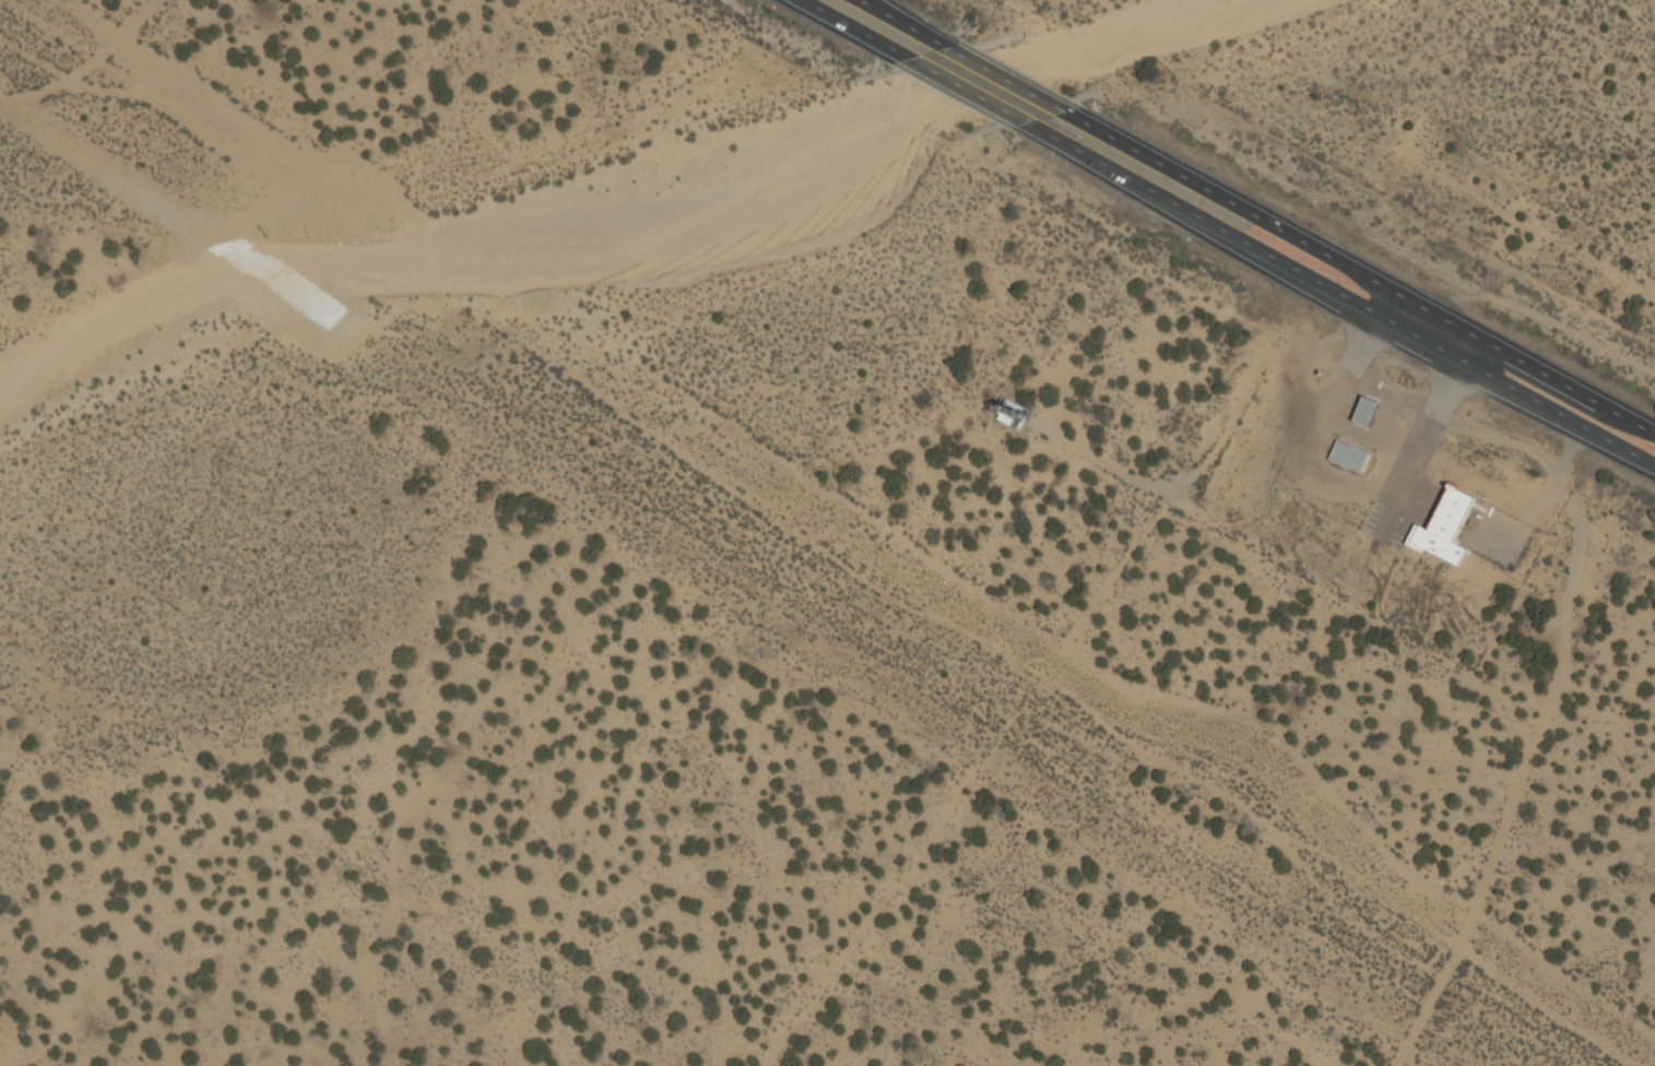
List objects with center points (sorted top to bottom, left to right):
road: (896, 20)
road: (852, 27)
road: (1009, 82)
road: (973, 94)
road: (1370, 281)
road: (1348, 300)
road: (1391, 394)
building: (1355, 405)
building: (1016, 408)
building: (1370, 413)
road: (1370, 440)
building: (1339, 451)
road: (1347, 487)
road: (1529, 751)

